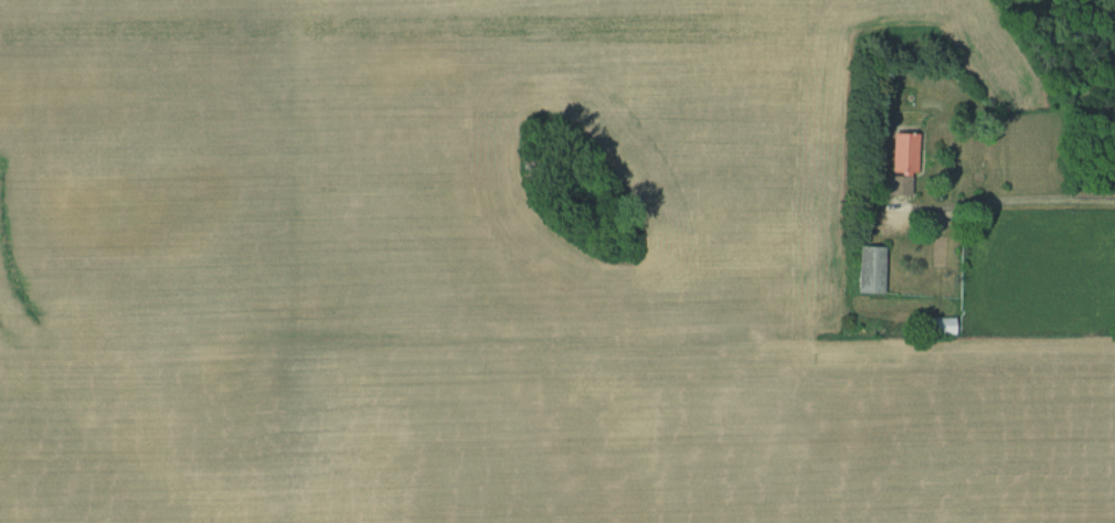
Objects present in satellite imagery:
building: (900, 166)
road: (1033, 207)
building: (868, 269)

